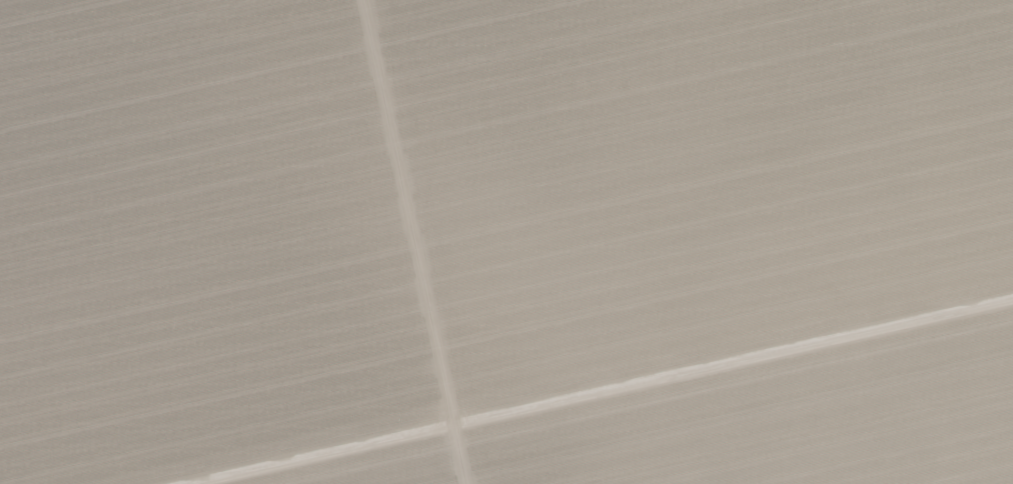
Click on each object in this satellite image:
road: (412, 242)
road: (605, 392)

